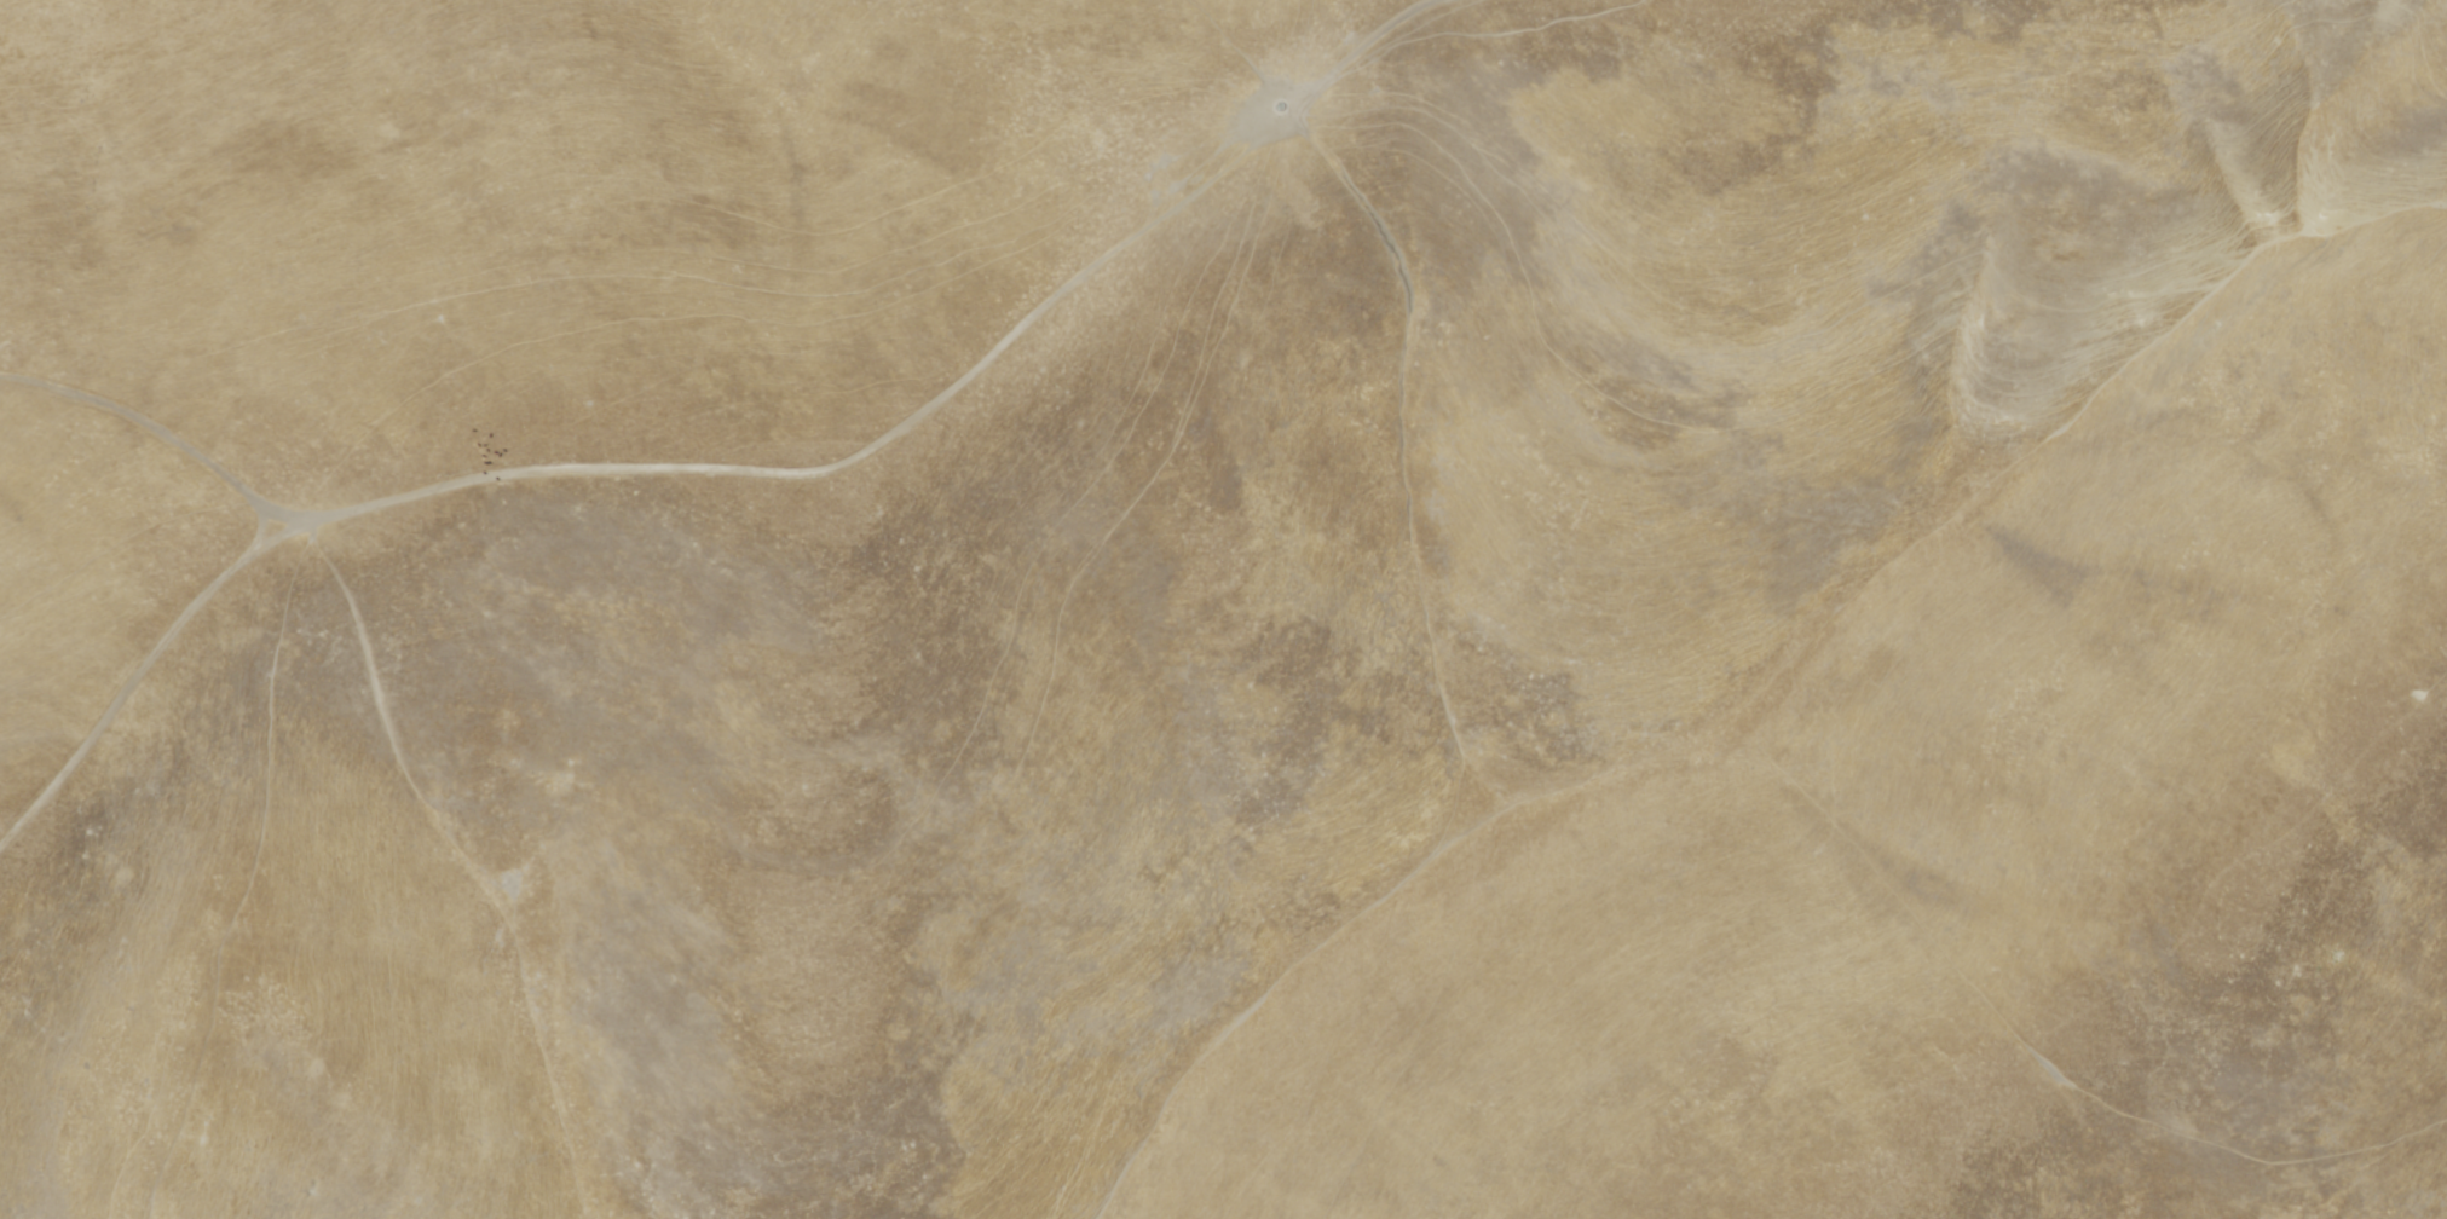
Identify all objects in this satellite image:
road: (149, 432)

